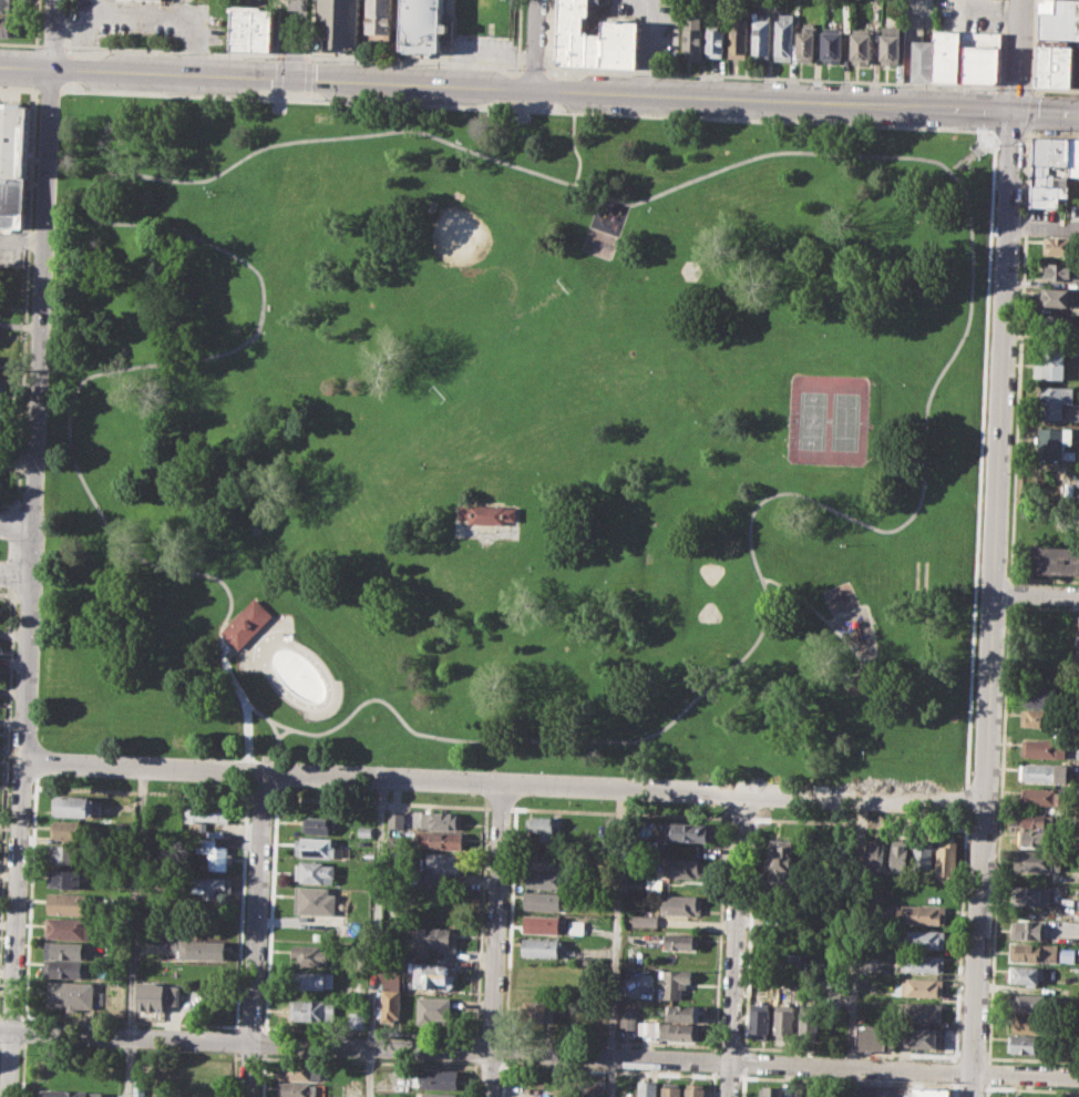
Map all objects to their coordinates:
building: (9, 6)
building: (379, 16)
park: (484, 17)
road: (143, 19)
building: (1059, 19)
road: (69, 23)
building: (338, 23)
building: (8, 25)
building: (422, 25)
building: (574, 25)
building: (242, 27)
road: (310, 28)
building: (263, 29)
road: (52, 33)
building: (760, 34)
building: (737, 37)
building: (782, 37)
road: (292, 38)
road: (518, 38)
road: (37, 40)
street lamp: (39, 40)
building: (715, 41)
building: (619, 42)
building: (691, 42)
building: (804, 42)
road: (38, 44)
road: (51, 44)
road: (533, 44)
building: (861, 44)
road: (1034, 44)
street lamp: (19, 45)
building: (831, 45)
building: (888, 45)
road: (71, 47)
building: (564, 47)
parking lot: (482, 48)
building: (593, 49)
road: (175, 51)
road: (279, 55)
road: (292, 55)
building: (947, 55)
road: (1017, 55)
road: (308, 57)
building: (980, 57)
building: (919, 60)
road: (415, 62)
building: (1046, 63)
building: (1063, 65)
road: (70, 68)
road: (533, 68)
road: (278, 73)
road: (308, 75)
traffic signals: (291, 76)
road: (772, 76)
street lamp: (1031, 76)
road: (19, 88)
road: (513, 88)
road: (63, 89)
road: (539, 89)
road: (991, 89)
road: (1016, 89)
road: (1055, 89)
road: (49, 90)
road: (277, 93)
road: (307, 94)
road: (279, 100)
road: (511, 104)
road: (526, 110)
road: (990, 111)
road: (522, 112)
street lamp: (649, 113)
street lamp: (60, 114)
street lamp: (893, 124)
road: (372, 133)
road: (990, 133)
road: (1010, 134)
road: (1051, 134)
road: (994, 136)
street lamp: (1024, 140)
road: (985, 141)
building: (1050, 151)
road: (888, 155)
building: (1073, 157)
road: (962, 162)
building: (13, 164)
building: (1039, 168)
building: (1042, 180)
street lamp: (208, 189)
building: (1047, 193)
street lamp: (55, 222)
road: (1045, 226)
road: (197, 237)
street lamp: (1020, 237)
building: (1062, 245)
park: (462, 254)
building: (1061, 270)
road: (25, 296)
building: (1057, 296)
building: (1058, 322)
street lamp: (50, 329)
street lamp: (826, 335)
park: (502, 339)
street lamp: (1015, 349)
building: (1049, 365)
street lamp: (650, 370)
building: (1058, 403)
road: (37, 414)
park: (829, 419)
street lamp: (699, 421)
street lamp: (178, 426)
park: (516, 437)
street lamp: (45, 441)
building: (1055, 442)
road: (979, 460)
road: (78, 469)
street lamp: (1009, 472)
road: (8, 503)
building: (487, 513)
road: (16, 527)
street lamp: (0, 539)
road: (14, 547)
street lamp: (486, 548)
street lamp: (43, 552)
building: (1056, 560)
street lamp: (1007, 566)
park: (710, 572)
road: (14, 574)
street lamp: (1024, 583)
road: (1036, 594)
road: (6, 595)
road: (993, 603)
street lamp: (1006, 611)
park: (709, 612)
road: (822, 615)
building: (247, 623)
street lamp: (40, 635)
road: (233, 646)
road: (708, 688)
building: (1042, 698)
road: (245, 700)
street lamp: (436, 709)
building: (1041, 718)
street lamp: (37, 731)
road: (284, 731)
street lamp: (999, 731)
road: (6, 737)
building: (1042, 748)
street lamp: (54, 750)
street lamp: (163, 755)
street lamp: (269, 759)
street lamp: (379, 763)
street lamp: (495, 769)
building: (1044, 772)
street lamp: (612, 775)
road: (276, 776)
street lamp: (717, 779)
road: (504, 783)
street lamp: (833, 783)
street lamp: (953, 790)
road: (140, 791)
building: (1039, 796)
road: (248, 797)
road: (261, 797)
road: (380, 801)
road: (965, 801)
building: (76, 806)
street lamp: (271, 807)
road: (499, 807)
building: (209, 811)
road: (615, 811)
street lamp: (511, 812)
road: (737, 818)
building: (1039, 818)
building: (394, 819)
building: (441, 819)
road: (857, 821)
street lamp: (751, 822)
building: (316, 823)
building: (545, 828)
building: (71, 829)
building: (364, 830)
building: (689, 831)
building: (1038, 837)
building: (438, 839)
street lamp: (28, 847)
building: (317, 847)
building: (923, 852)
building: (66, 853)
building: (213, 854)
building: (898, 854)
building: (874, 857)
building: (946, 857)
building: (546, 860)
building: (1039, 860)
building: (781, 861)
building: (442, 862)
building: (682, 867)
building: (314, 872)
building: (65, 878)
building: (543, 880)
building: (209, 885)
building: (1032, 895)
road: (135, 901)
building: (542, 901)
building: (69, 902)
building: (319, 904)
building: (681, 904)
road: (270, 911)
building: (921, 913)
building: (644, 920)
road: (479, 923)
building: (551, 924)
road: (508, 925)
building: (68, 927)
road: (16, 930)
building: (1029, 930)
road: (256, 934)
road: (376, 937)
building: (922, 937)
building: (433, 939)
road: (958, 939)
road: (494, 940)
building: (681, 941)
road: (615, 942)
road: (732, 945)
building: (196, 946)
building: (541, 947)
road: (853, 947)
building: (64, 949)
building: (1034, 952)
building: (308, 953)
building: (1067, 954)
building: (783, 961)
building: (922, 962)
street lamp: (22, 966)
building: (63, 967)
building: (115, 970)
building: (1024, 974)
building: (432, 976)
building: (311, 978)
building: (672, 983)
building: (919, 986)
building: (70, 993)
building: (156, 995)
building: (1027, 1003)
building: (390, 1007)
building: (311, 1009)
building: (922, 1009)
building: (434, 1011)
building: (761, 1011)
building: (537, 1012)
building: (681, 1012)
road: (10, 1018)
building: (628, 1018)
building: (784, 1018)
building: (356, 1019)
building: (811, 1019)
building: (1028, 1023)
building: (670, 1029)
road: (20, 1031)
building: (875, 1037)
building: (925, 1037)
road: (235, 1039)
road: (9, 1042)
road: (265, 1042)
building: (1024, 1043)
road: (474, 1050)
road: (539, 1052)
road: (503, 1053)
street lamp: (20, 1054)
road: (370, 1062)
road: (129, 1066)
road: (487, 1066)
road: (21, 1068)
building: (299, 1070)
road: (608, 1070)
road: (954, 1070)
road: (232, 1074)
road: (263, 1074)
road: (727, 1076)
building: (435, 1077)
road: (472, 1078)
road: (502, 1079)
road: (846, 1081)
road: (969, 1087)
building: (595, 1088)
building: (647, 1088)
road: (953, 1088)
building: (297, 1089)
building: (671, 1089)
building: (695, 1089)
road: (1030, 1089)
building: (772, 1091)
building: (929, 1091)
building: (69, 1093)
building: (438, 1095)

